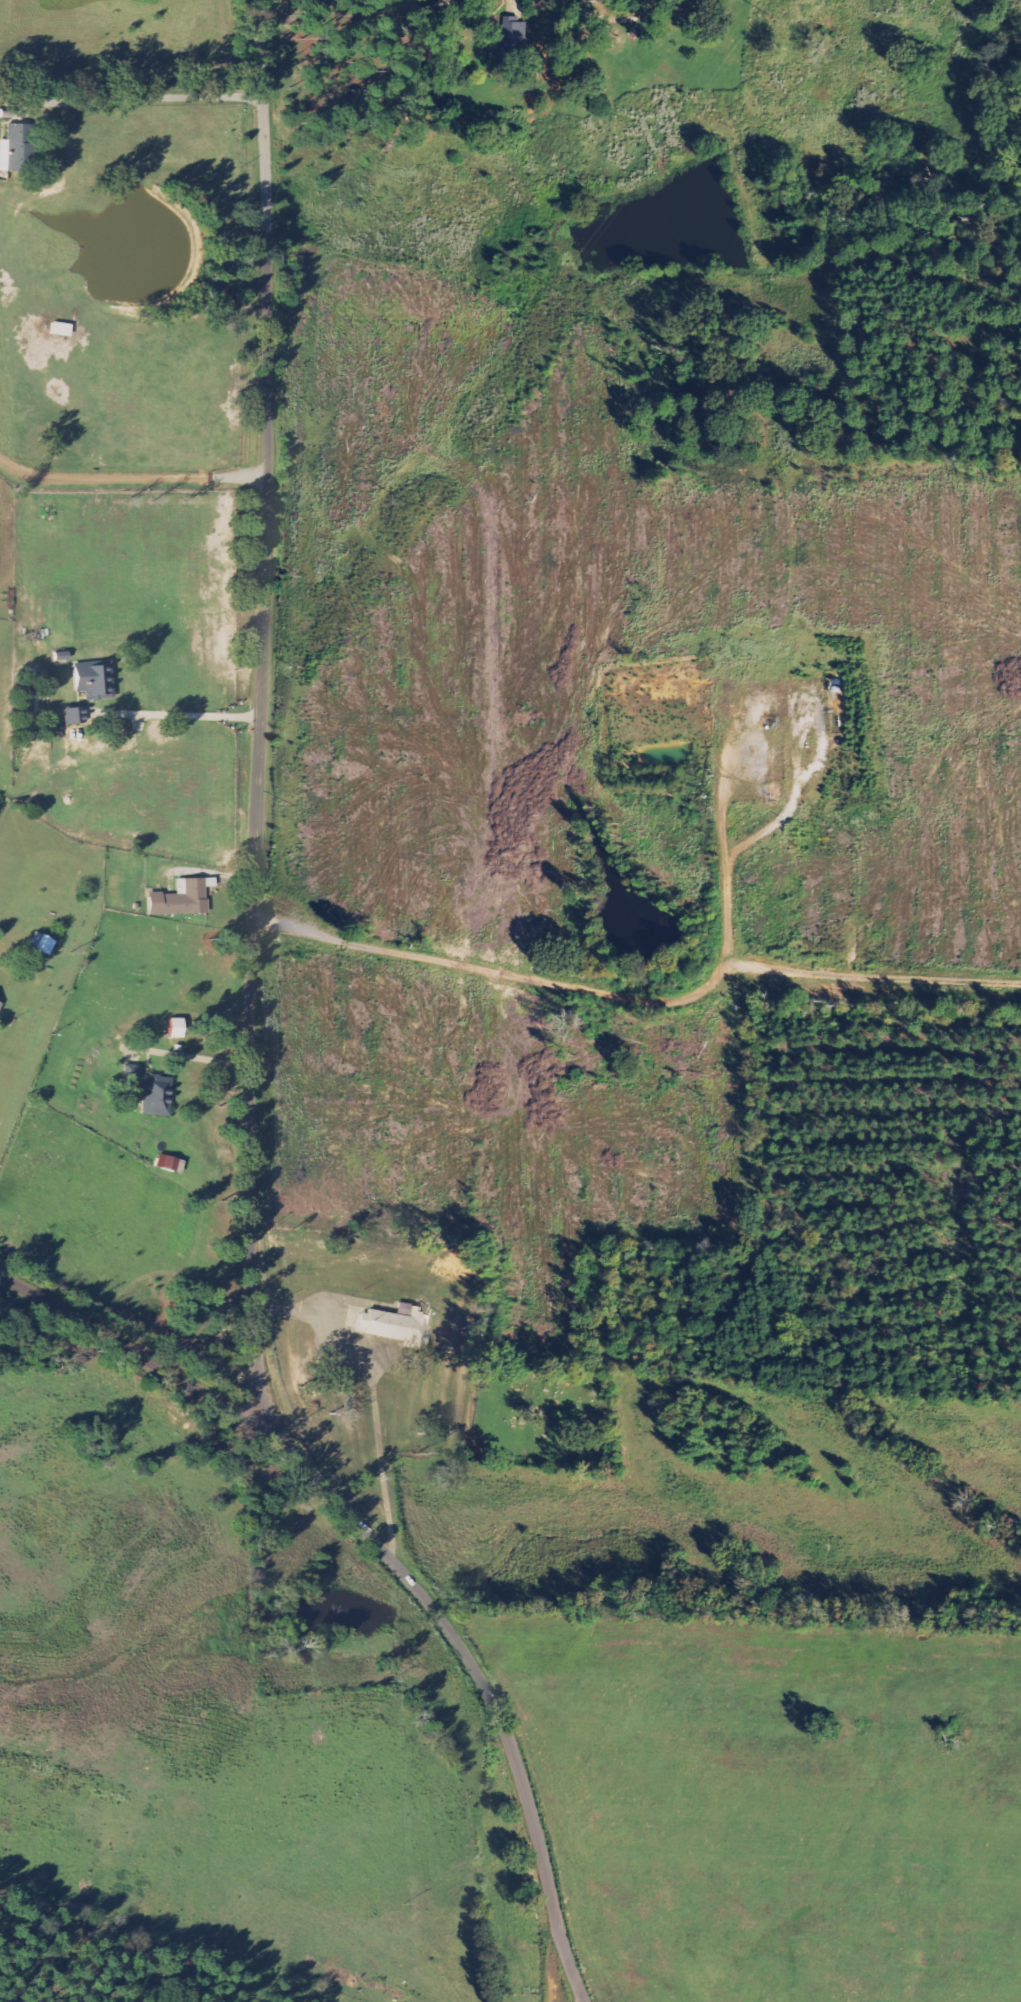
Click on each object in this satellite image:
building: (516, 42)
building: (16, 149)
building: (62, 330)
road: (234, 465)
building: (95, 681)
building: (74, 715)
building: (185, 898)
building: (42, 944)
building: (1, 1005)
building: (176, 1028)
building: (132, 1073)
building: (157, 1096)
building: (166, 1162)
road: (234, 1191)
building: (398, 1325)
road: (386, 1559)
road: (567, 1962)

